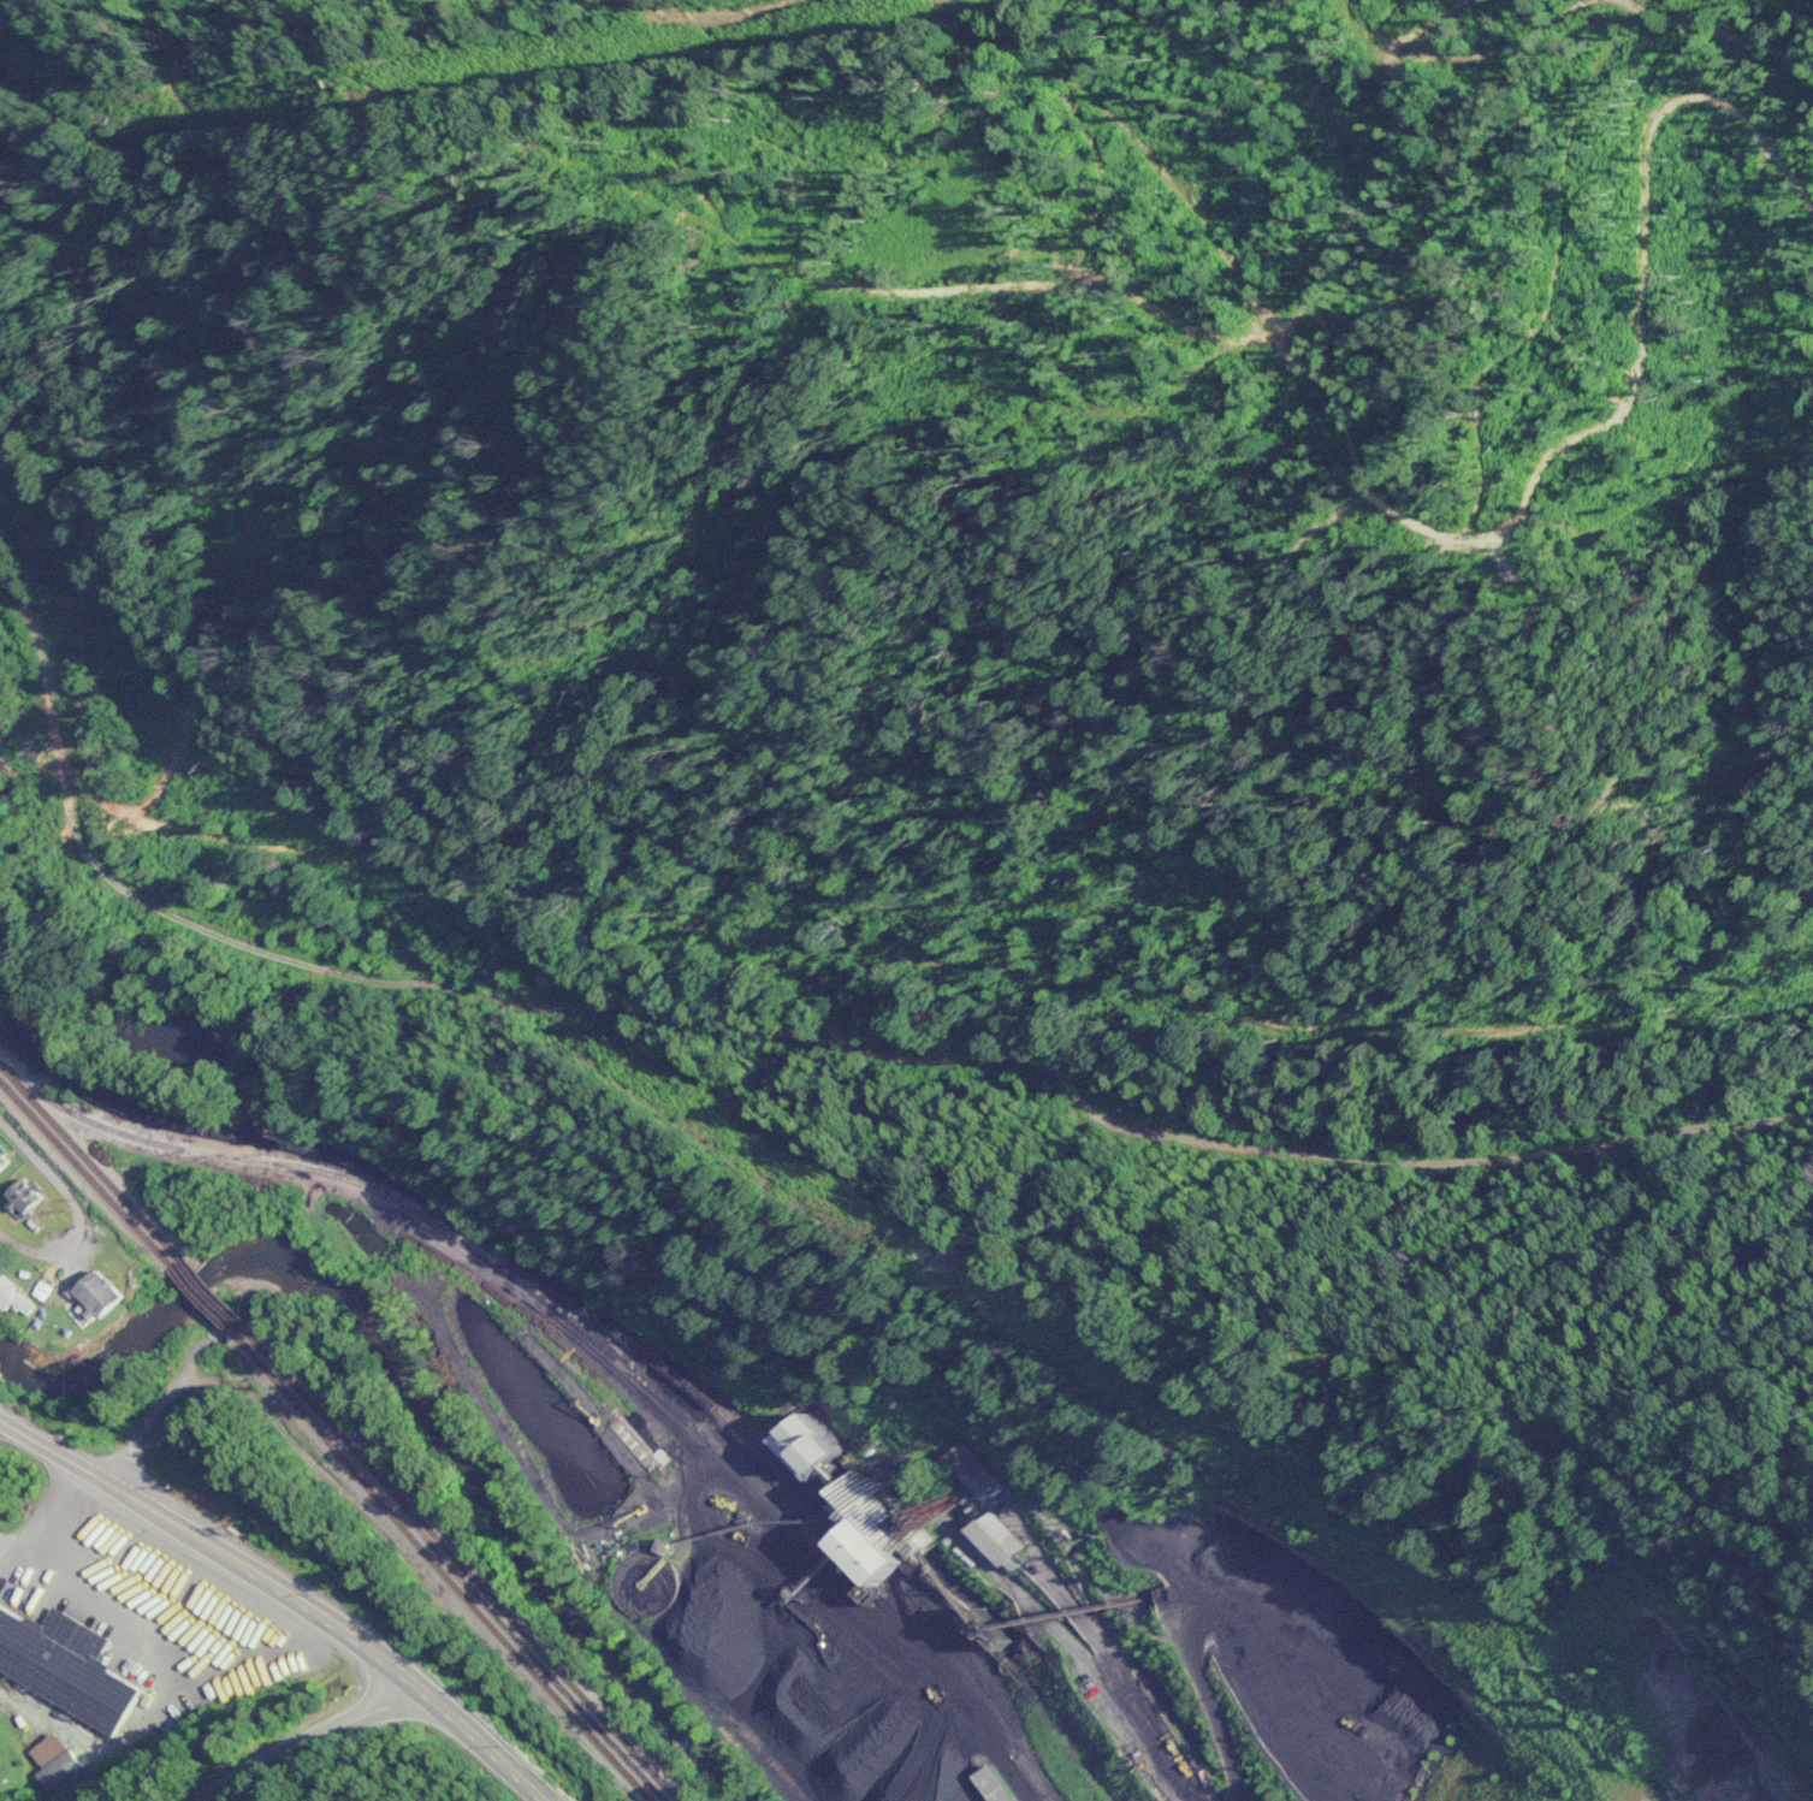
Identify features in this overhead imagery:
road: (985, 1027)
railway: (220, 1122)
railway: (87, 1157)
building: (2, 1160)
railway: (82, 1169)
building: (24, 1196)
road: (78, 1207)
railway: (209, 1291)
building: (95, 1293)
railway: (197, 1297)
building: (12, 1298)
railway: (568, 1301)
railway: (576, 1328)
railway: (567, 1334)
road: (176, 1382)
river: (408, 1388)
road: (808, 1396)
railway: (716, 1398)
building: (793, 1445)
road: (54, 1452)
building: (970, 1473)
building: (994, 1541)
railway: (462, 1565)
railway: (440, 1568)
quarry: (1015, 1569)
road: (337, 1627)
railway: (525, 1648)
building: (63, 1669)
road: (312, 1740)
building: (58, 1772)

